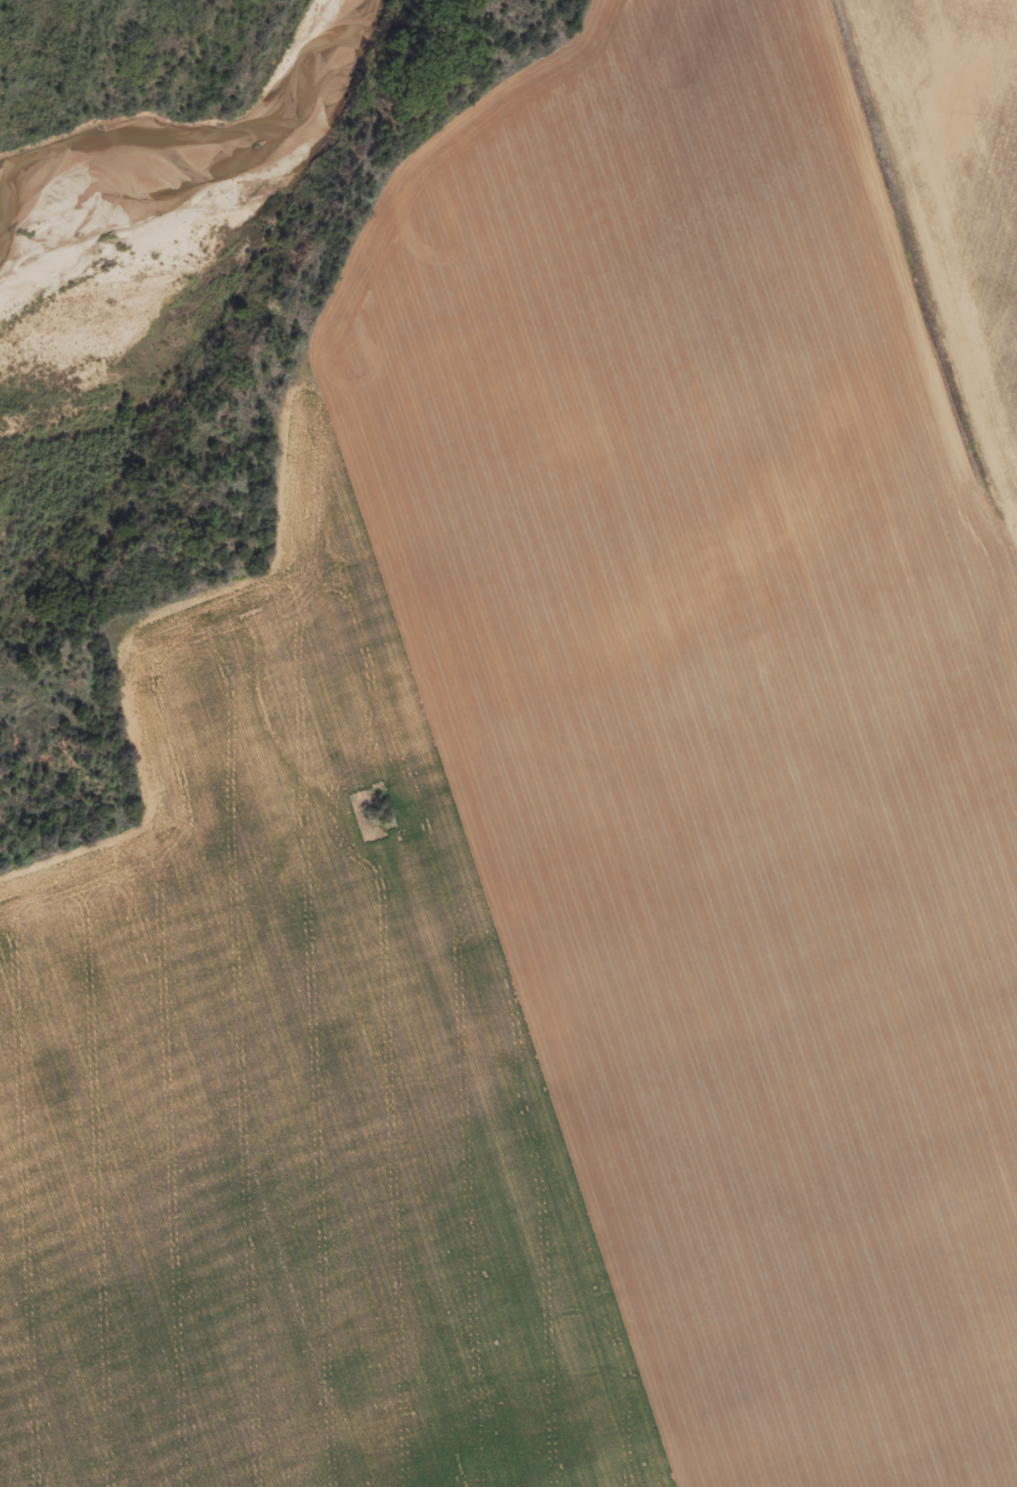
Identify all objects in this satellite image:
river: (220, 246)

